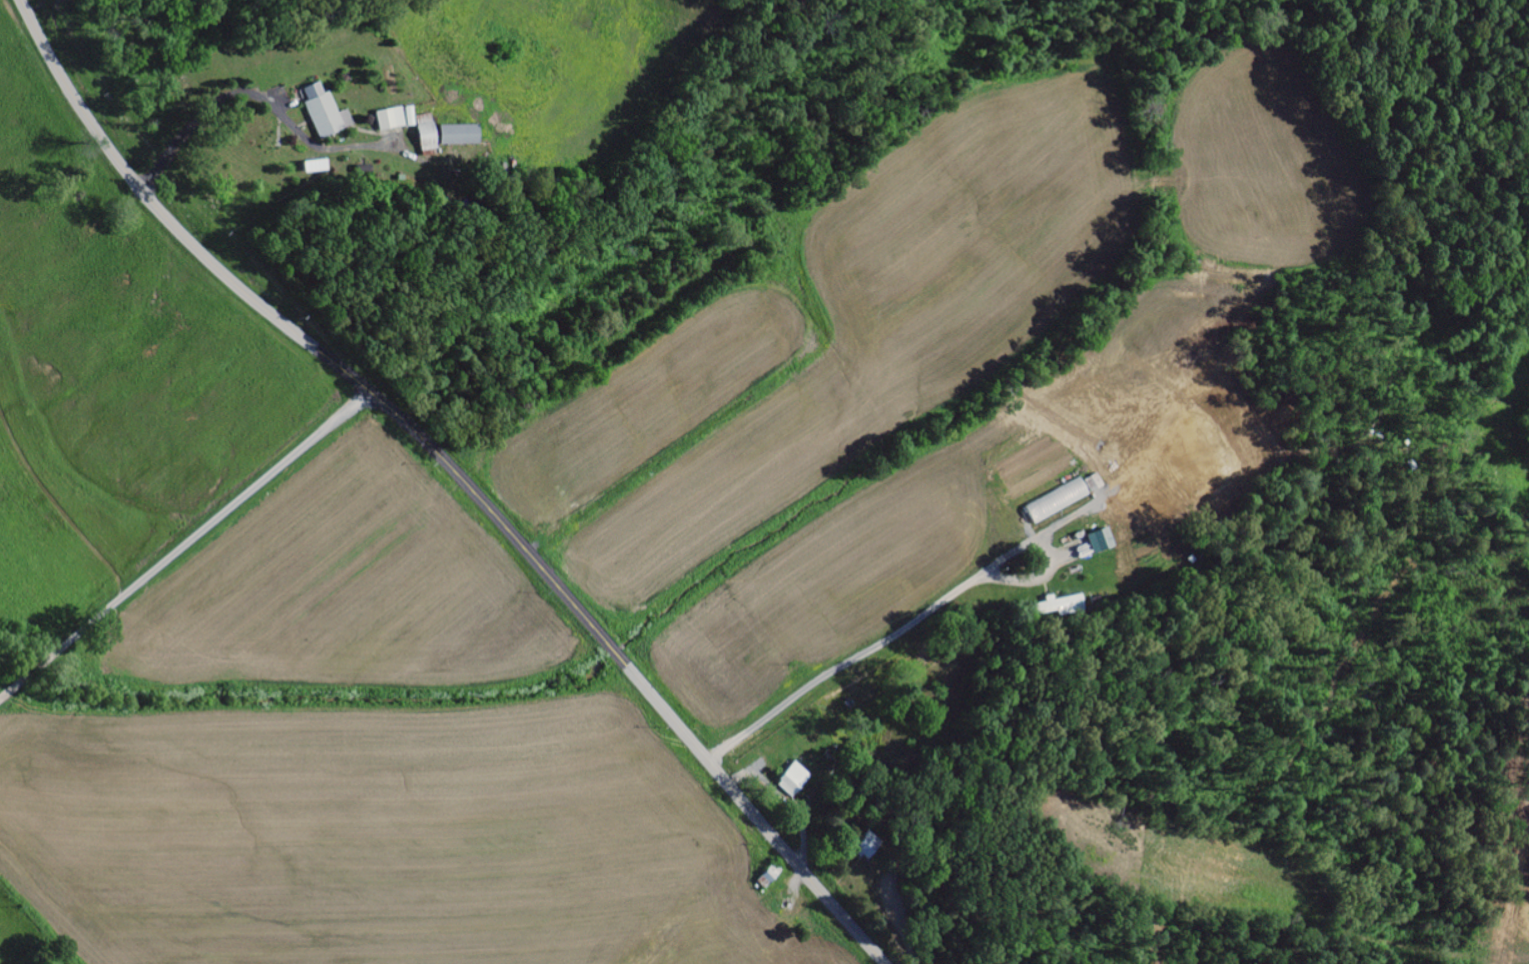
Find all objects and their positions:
building: (326, 112)
building: (397, 118)
building: (460, 135)
building: (316, 166)
road: (458, 474)
building: (1059, 501)
building: (1102, 541)
road: (184, 547)
building: (1062, 606)
building: (796, 780)

